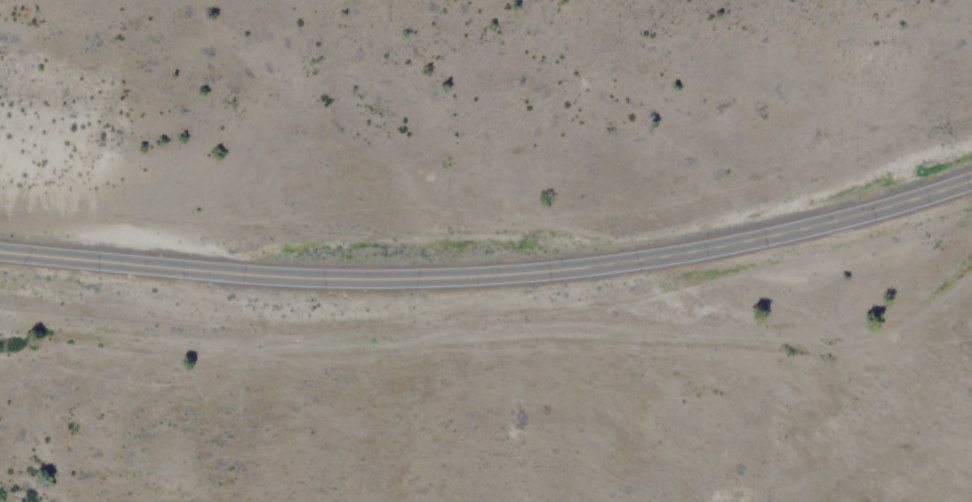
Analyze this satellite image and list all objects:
road: (490, 273)

